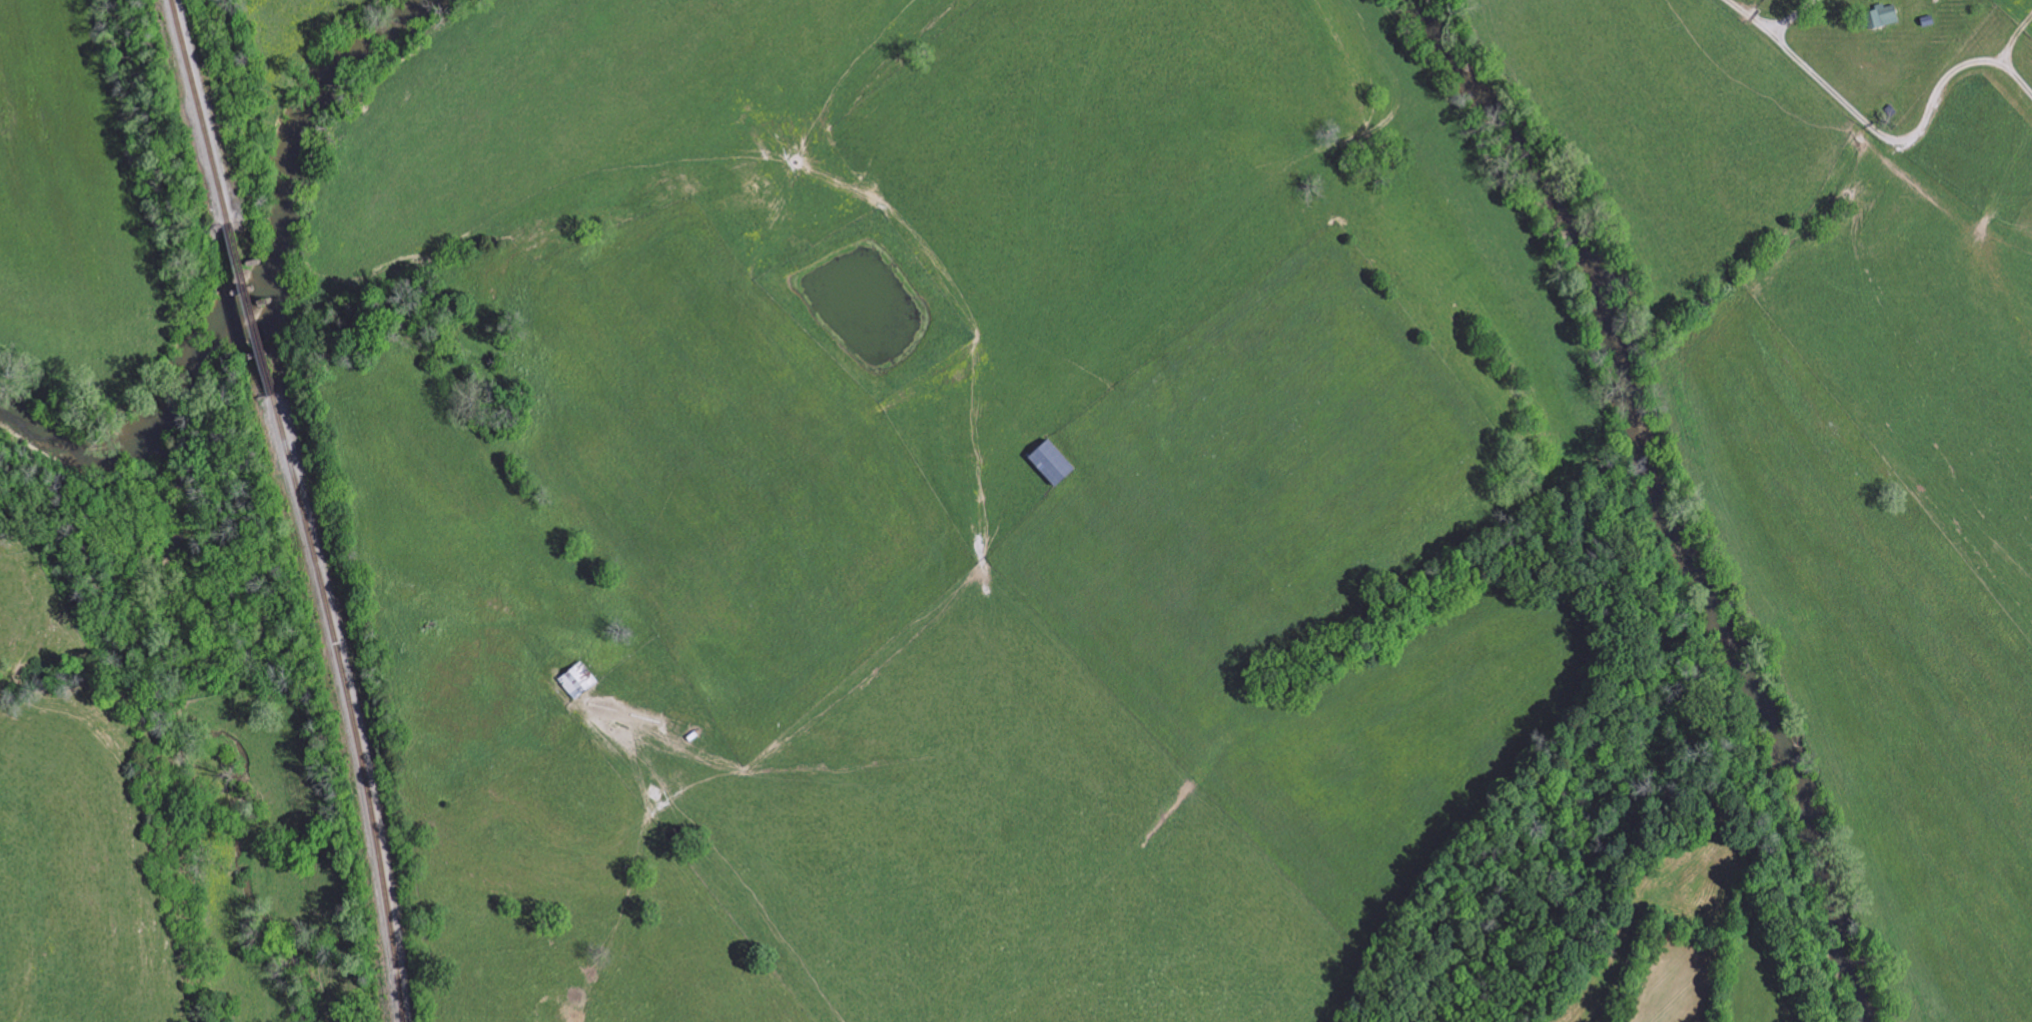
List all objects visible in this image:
building: (1881, 17)
road: (1776, 33)
railway: (195, 112)
road: (1908, 141)
railway: (245, 309)
building: (1051, 464)
building: (578, 680)
railway: (350, 705)
road: (684, 888)

